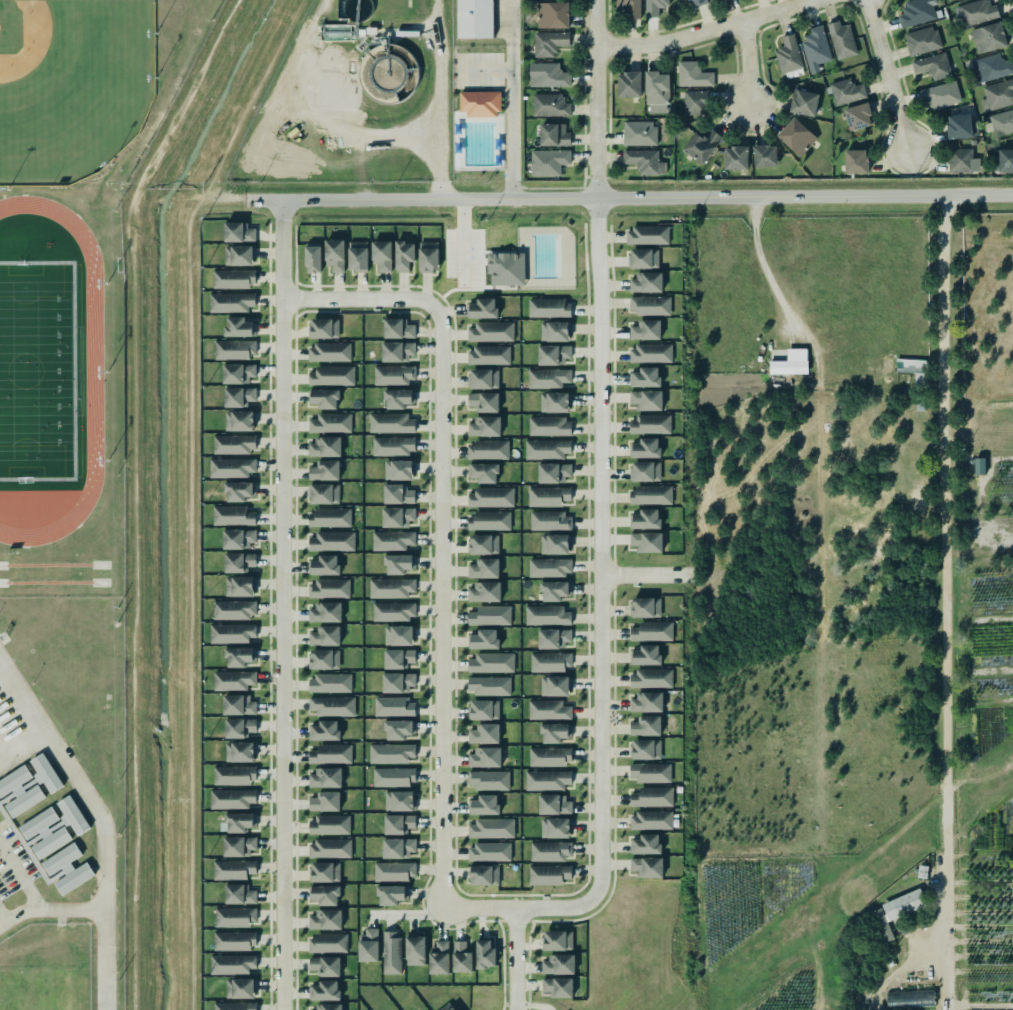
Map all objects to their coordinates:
building: (957, 0)
building: (697, 2)
building: (655, 7)
building: (630, 8)
building: (976, 11)
building: (917, 12)
building: (551, 15)
building: (475, 19)
road: (706, 31)
road: (282, 35)
building: (989, 38)
building: (842, 40)
building: (922, 41)
building: (549, 43)
building: (816, 49)
building: (788, 57)
road: (746, 64)
building: (932, 65)
building: (994, 67)
parking lot: (478, 69)
road: (484, 69)
building: (548, 75)
building: (692, 75)
road: (885, 75)
building: (629, 84)
park: (71, 85)
road: (481, 89)
building: (845, 91)
building: (657, 92)
building: (941, 95)
building: (997, 95)
road: (511, 97)
road: (595, 97)
wastewater plant: (355, 98)
building: (479, 103)
building: (695, 103)
building: (803, 103)
building: (550, 105)
building: (857, 116)
building: (1001, 122)
building: (960, 127)
park: (477, 132)
road: (503, 132)
building: (638, 133)
building: (554, 135)
building: (797, 136)
building: (701, 146)
building: (765, 155)
building: (735, 159)
building: (1005, 160)
building: (643, 161)
building: (856, 161)
building: (961, 161)
building: (547, 162)
road: (219, 166)
road: (512, 181)
road: (550, 187)
road: (583, 187)
road: (647, 195)
building: (237, 230)
building: (646, 235)
road: (462, 240)
road: (482, 241)
building: (333, 252)
road: (499, 252)
building: (238, 253)
road: (472, 253)
building: (402, 254)
building: (382, 255)
building: (427, 255)
building: (358, 256)
parking lot: (463, 256)
building: (642, 256)
road: (482, 257)
building: (312, 258)
road: (486, 261)
building: (509, 269)
road: (482, 275)
building: (234, 278)
road: (769, 279)
building: (646, 282)
road: (499, 288)
road: (460, 289)
road: (435, 293)
road: (359, 299)
road: (444, 301)
building: (230, 302)
building: (649, 305)
building: (482, 308)
building: (549, 308)
building: (238, 326)
building: (397, 327)
building: (324, 328)
building: (645, 330)
building: (490, 331)
building: (554, 331)
building: (234, 349)
building: (395, 349)
building: (329, 351)
building: (650, 353)
building: (553, 354)
building: (488, 355)
building: (790, 362)
building: (913, 369)
building: (236, 371)
building: (392, 373)
building: (330, 374)
building: (646, 377)
building: (484, 378)
building: (548, 378)
building: (239, 396)
building: (322, 396)
building: (398, 398)
building: (646, 399)
building: (483, 400)
building: (555, 402)
building: (239, 420)
building: (329, 422)
building: (391, 423)
building: (650, 424)
building: (548, 425)
building: (484, 426)
building: (233, 444)
building: (324, 445)
building: (392, 446)
building: (644, 448)
building: (487, 449)
building: (546, 449)
building: (979, 466)
building: (230, 467)
building: (398, 468)
building: (323, 469)
building: (646, 471)
building: (484, 472)
building: (553, 472)
building: (239, 491)
building: (324, 493)
building: (650, 493)
building: (398, 494)
building: (548, 496)
building: (491, 497)
building: (231, 514)
building: (397, 516)
building: (329, 517)
building: (488, 519)
building: (645, 519)
building: (550, 521)
building: (238, 538)
building: (392, 540)
building: (332, 541)
building: (647, 542)
building: (482, 543)
building: (555, 544)
road: (599, 546)
building: (238, 561)
building: (396, 562)
building: (322, 563)
building: (549, 567)
building: (482, 568)
road: (646, 576)
building: (238, 585)
building: (390, 586)
building: (328, 588)
building: (554, 589)
building: (484, 591)
road: (946, 602)
road: (282, 605)
building: (646, 607)
road: (441, 608)
building: (234, 609)
building: (392, 610)
crop: (851, 610)
building: (324, 611)
building: (489, 614)
building: (547, 614)
building: (651, 630)
building: (231, 633)
building: (399, 635)
building: (325, 636)
building: (553, 637)
building: (484, 639)
building: (238, 655)
building: (645, 655)
building: (399, 658)
building: (325, 659)
building: (491, 661)
building: (550, 661)
building: (650, 677)
building: (231, 679)
building: (329, 681)
building: (397, 682)
building: (488, 685)
building: (555, 686)
building: (646, 702)
building: (237, 704)
building: (331, 704)
building: (392, 705)
building: (482, 708)
building: (548, 709)
building: (238, 726)
building: (646, 726)
building: (397, 728)
building: (324, 731)
building: (483, 732)
building: (555, 732)
building: (645, 749)
building: (238, 751)
building: (389, 752)
building: (330, 753)
building: (484, 756)
building: (550, 756)
building: (45, 772)
building: (650, 772)
building: (235, 775)
building: (394, 776)
building: (324, 778)
building: (487, 780)
building: (547, 780)
building: (20, 790)
building: (651, 796)
building: (233, 799)
building: (399, 799)
building: (325, 801)
building: (484, 805)
building: (555, 805)
building: (72, 814)
road: (102, 819)
building: (238, 820)
building: (651, 820)
building: (397, 822)
building: (329, 823)
building: (554, 826)
building: (490, 827)
building: (45, 832)
building: (646, 844)
building: (238, 846)
building: (397, 846)
building: (329, 848)
building: (550, 850)
building: (488, 851)
building: (646, 866)
building: (67, 869)
building: (233, 870)
building: (326, 871)
building: (394, 871)
building: (482, 873)
building: (548, 874)
road: (20, 879)
building: (389, 893)
building: (239, 894)
building: (325, 894)
building: (904, 904)
road: (519, 908)
road: (50, 911)
road: (405, 915)
building: (233, 916)
building: (325, 918)
road: (1, 921)
building: (882, 925)
building: (558, 940)
building: (233, 941)
building: (327, 942)
building: (367, 945)
building: (414, 949)
building: (391, 952)
building: (485, 954)
building: (460, 956)
building: (438, 957)
road: (514, 959)
building: (231, 964)
building: (325, 964)
building: (558, 964)
building: (556, 986)
building: (239, 987)
building: (323, 989)
park: (42, 991)
building: (910, 998)
building: (233, 1005)
building: (327, 1006)
building: (451, 1008)

